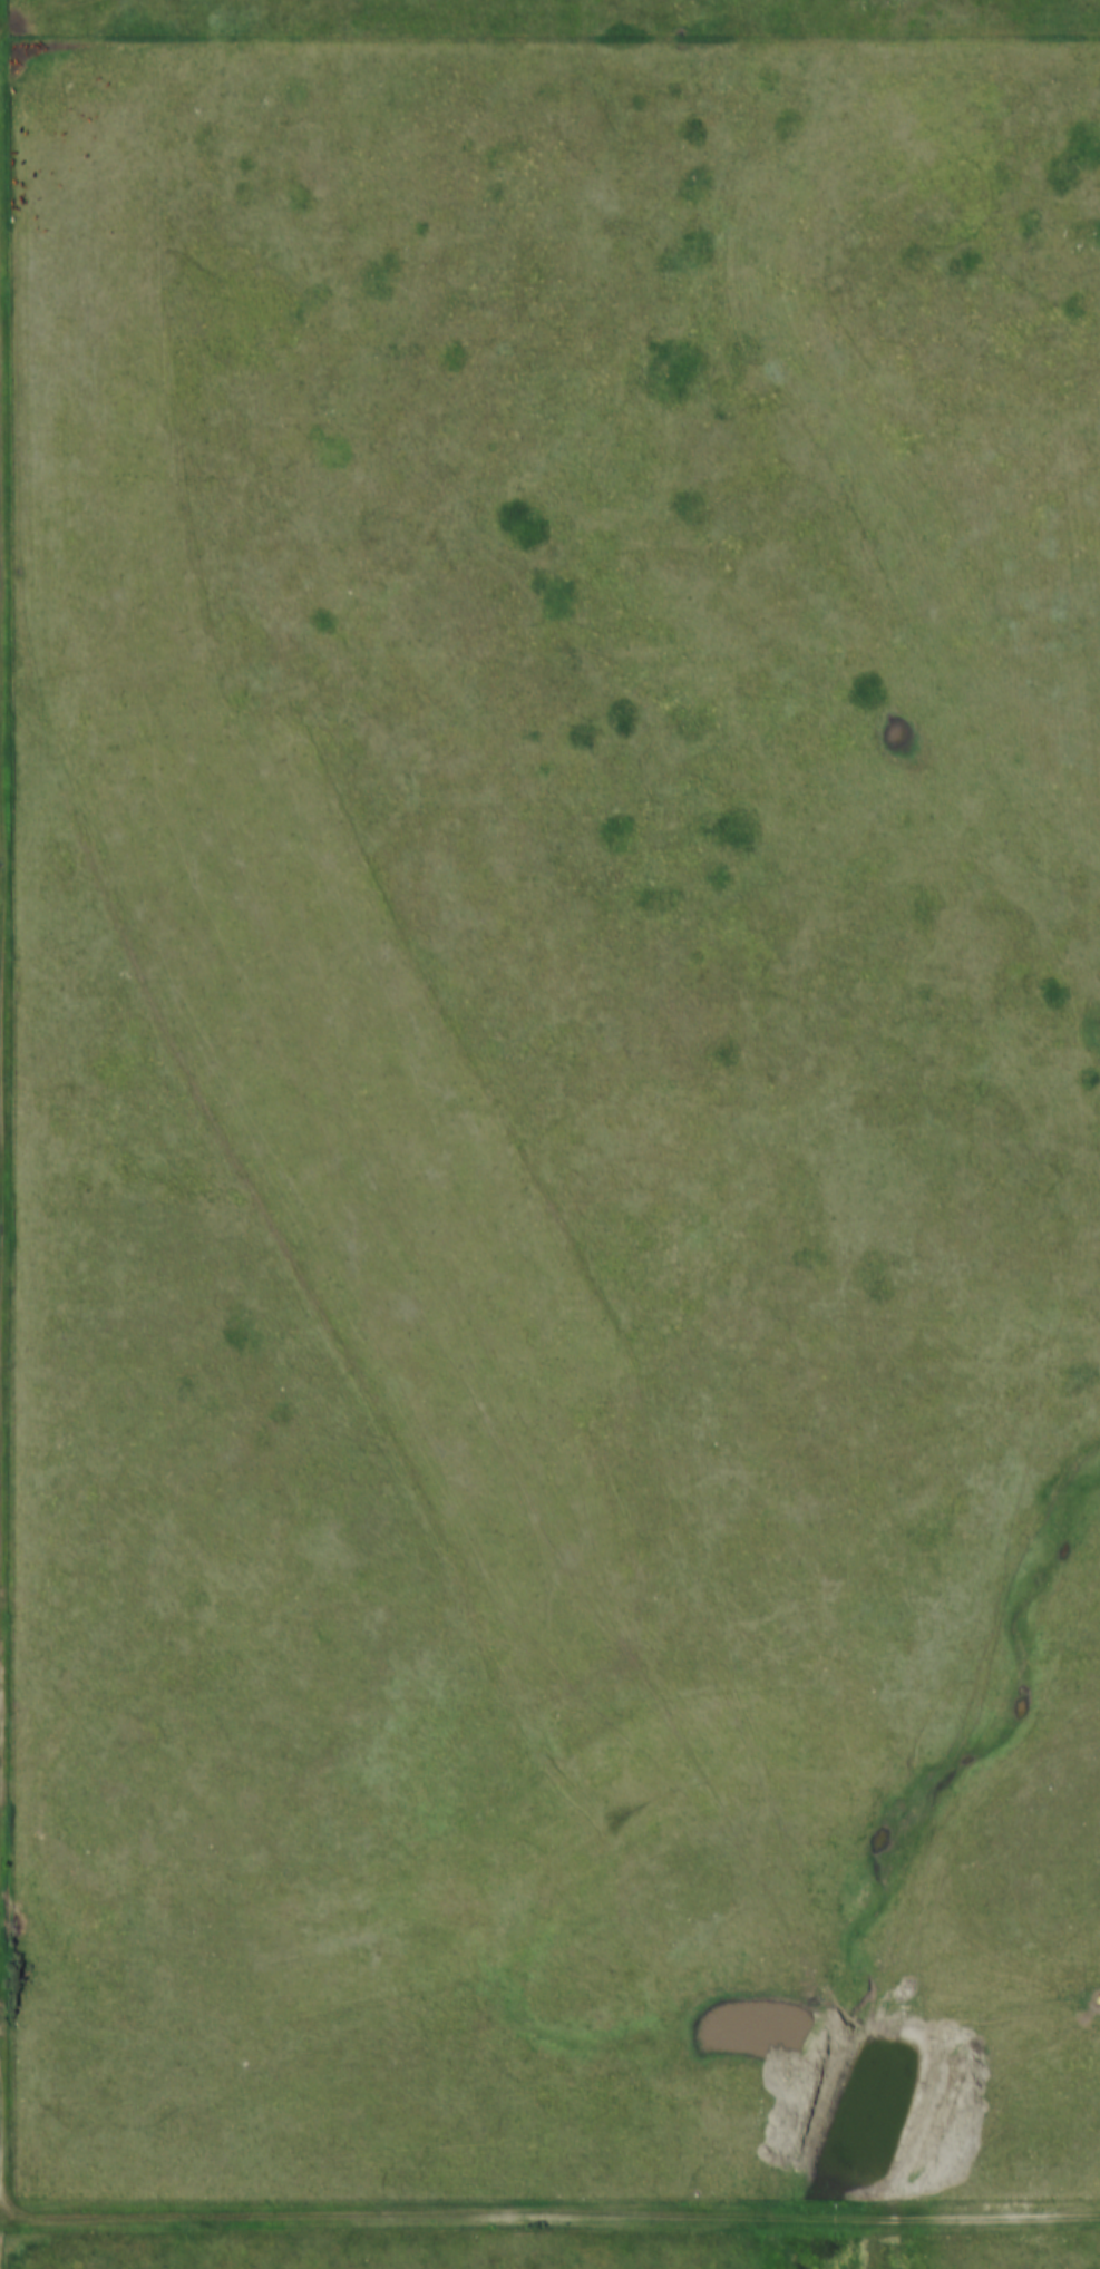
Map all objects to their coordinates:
road: (1, 1239)
road: (549, 2221)

